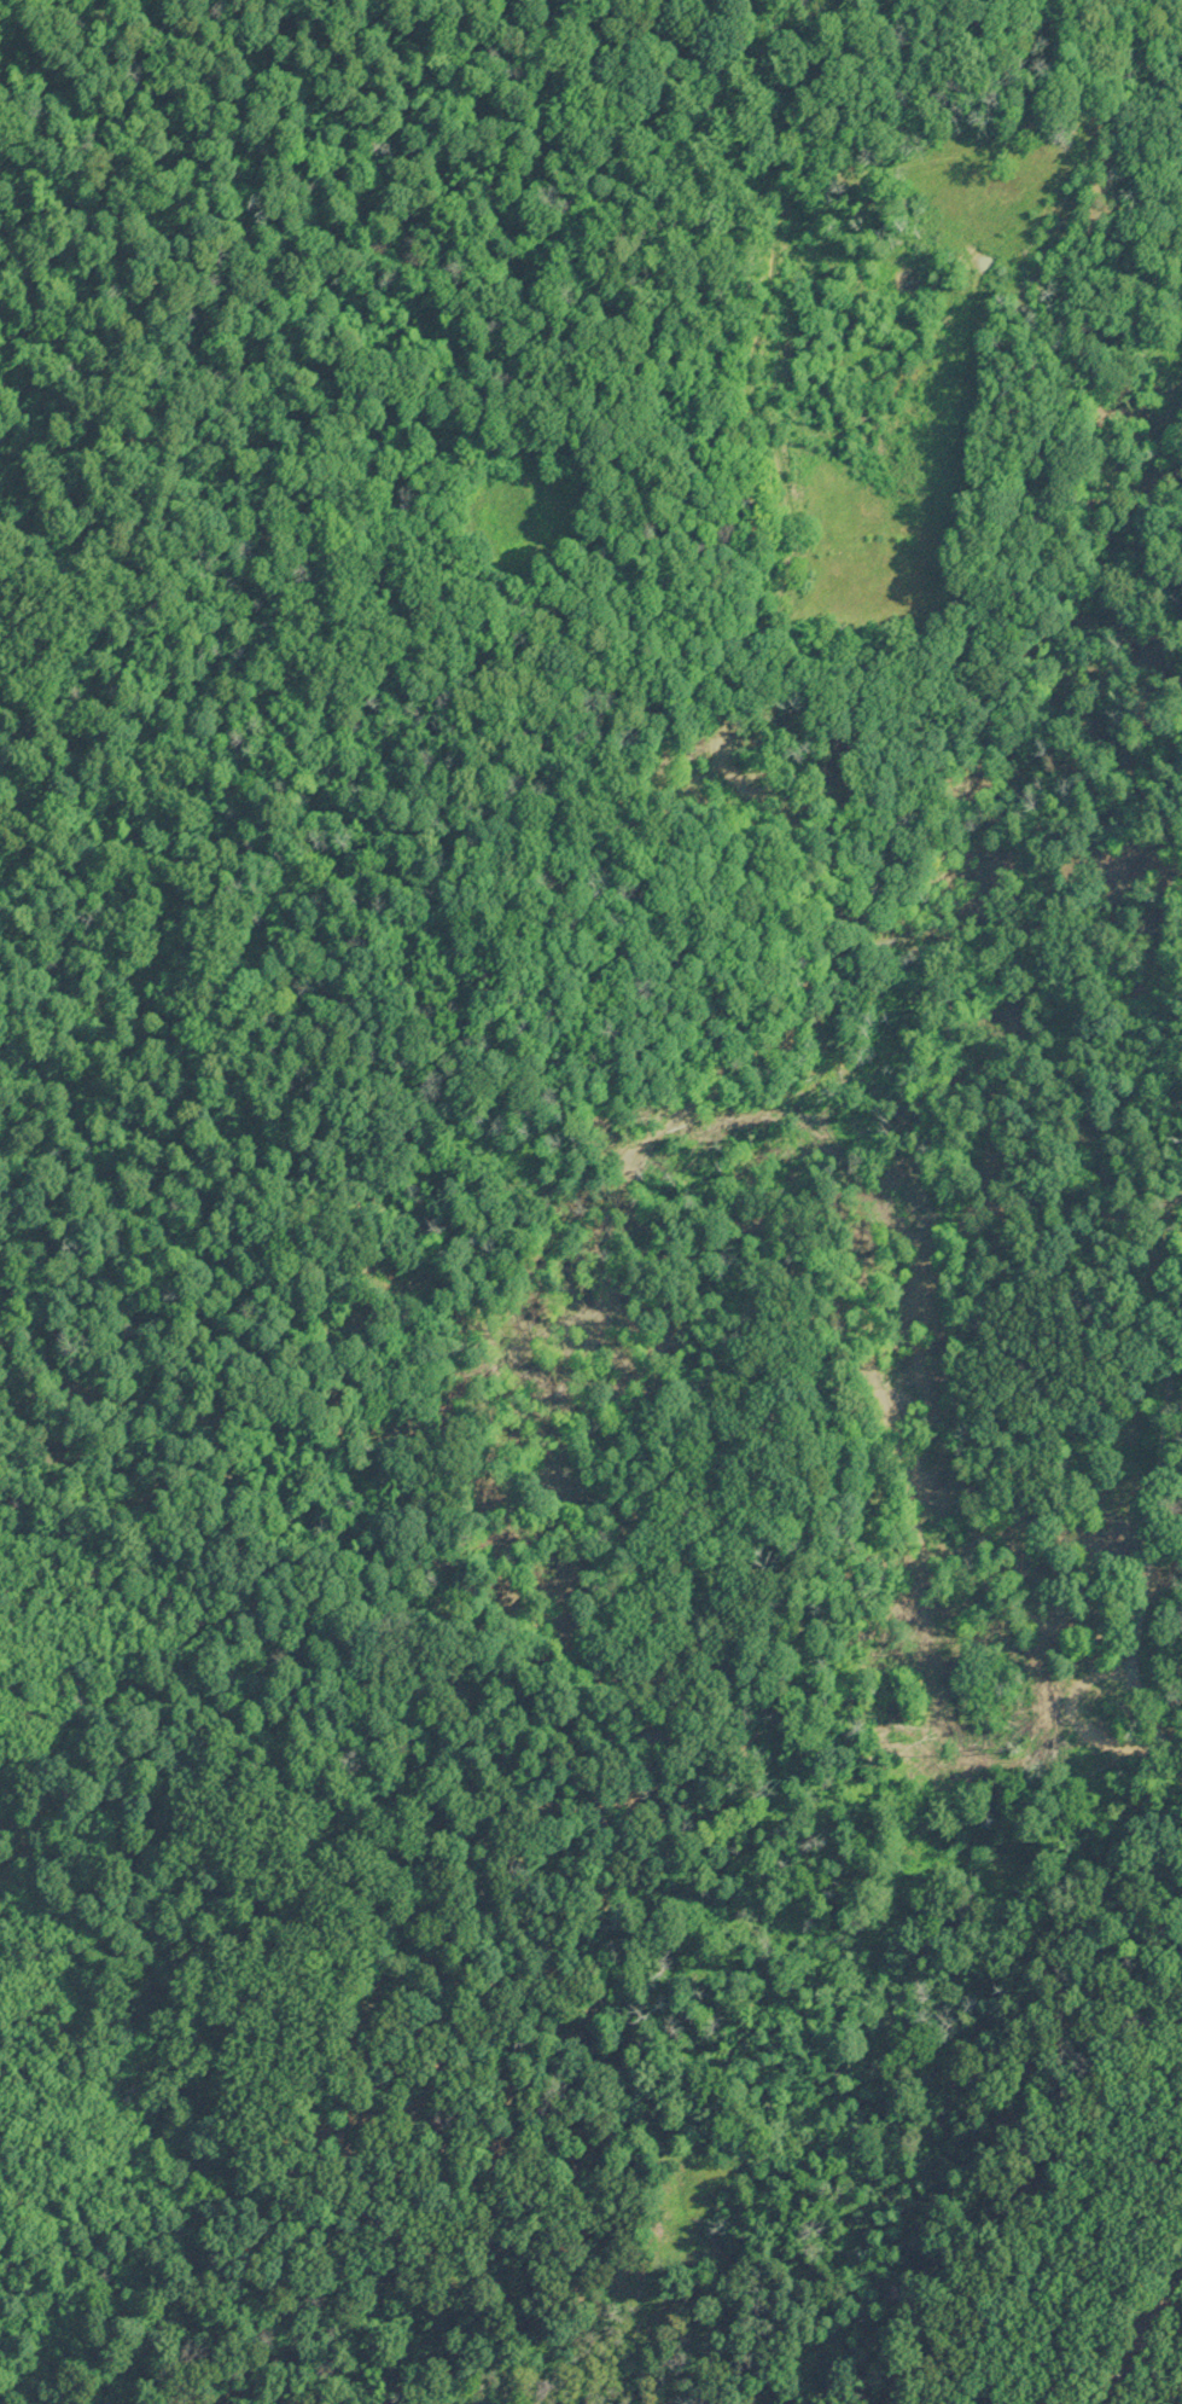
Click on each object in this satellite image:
road: (1147, 2345)

